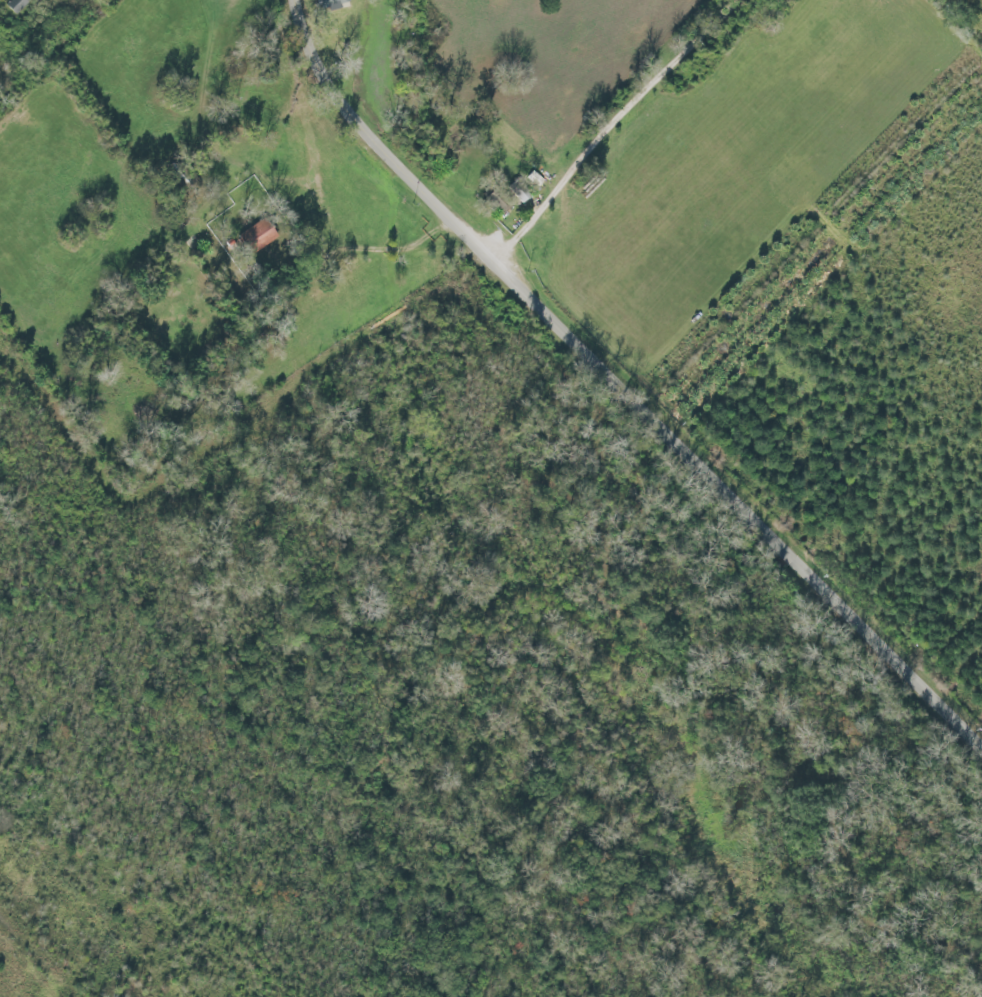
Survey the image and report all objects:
building: (14, 6)
building: (325, 6)
road: (601, 119)
road: (364, 246)
road: (625, 379)

